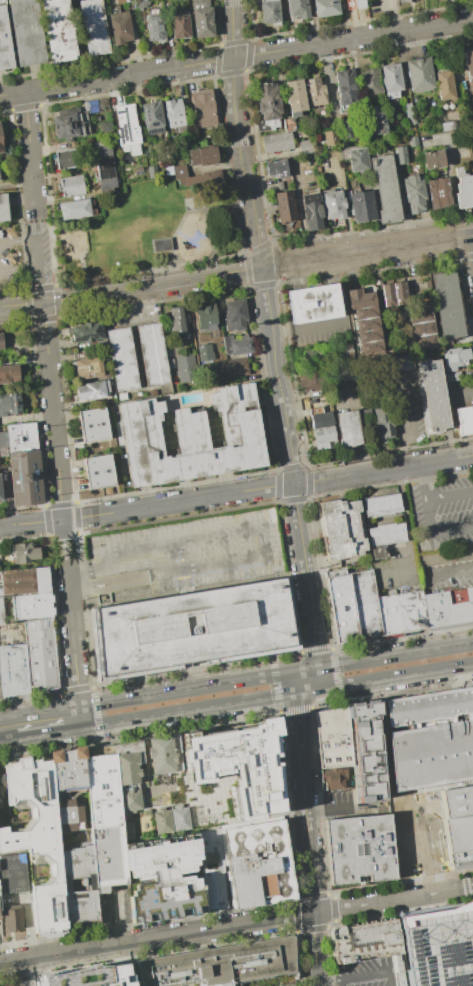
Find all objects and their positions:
building: (395, 0)
building: (403, 1)
building: (142, 4)
building: (354, 4)
building: (325, 8)
building: (297, 9)
building: (269, 12)
building: (202, 19)
building: (180, 26)
building: (93, 27)
building: (120, 28)
building: (155, 28)
building: (58, 29)
building: (26, 32)
building: (4, 43)
road: (236, 57)
building: (468, 65)
building: (419, 75)
building: (391, 78)
building: (370, 84)
building: (444, 85)
building: (345, 87)
building: (315, 92)
building: (293, 98)
building: (267, 102)
building: (97, 106)
building: (203, 108)
building: (173, 114)
building: (409, 114)
building: (151, 118)
building: (376, 121)
rooftop solar panel: (151, 124)
building: (125, 125)
building: (70, 126)
building: (446, 126)
building: (104, 128)
rooftop solar panel: (152, 129)
rooftop solar panel: (123, 131)
building: (346, 132)
road: (237, 134)
building: (329, 137)
building: (412, 141)
building: (276, 142)
building: (0, 146)
building: (306, 147)
road: (29, 150)
building: (203, 155)
building: (400, 155)
building: (66, 158)
building: (357, 160)
building: (432, 160)
building: (103, 164)
building: (472, 164)
building: (278, 168)
building: (179, 170)
building: (152, 171)
building: (205, 179)
building: (71, 186)
building: (386, 189)
building: (464, 192)
building: (414, 194)
building: (438, 194)
building: (333, 205)
building: (362, 206)
building: (3, 207)
building: (285, 207)
building: (74, 209)
building: (312, 211)
road: (185, 214)
road: (36, 223)
park: (148, 231)
road: (18, 240)
road: (214, 240)
road: (472, 242)
building: (161, 245)
road: (367, 250)
parking lot: (7, 257)
traffic signals: (262, 267)
road: (19, 268)
road: (84, 277)
road: (131, 289)
building: (397, 294)
building: (316, 303)
building: (451, 305)
building: (213, 315)
building: (237, 315)
building: (369, 320)
building: (180, 321)
building: (426, 326)
building: (84, 332)
road: (307, 332)
building: (0, 342)
building: (240, 345)
building: (344, 350)
building: (207, 352)
building: (155, 354)
building: (319, 355)
building: (125, 359)
building: (457, 359)
building: (402, 364)
building: (188, 367)
building: (91, 368)
building: (232, 369)
building: (8, 373)
building: (348, 376)
building: (456, 376)
road: (49, 378)
building: (313, 382)
building: (96, 391)
building: (436, 395)
building: (120, 396)
building: (9, 404)
parking lot: (408, 408)
building: (369, 415)
building: (322, 418)
road: (408, 419)
building: (466, 420)
building: (386, 422)
building: (96, 425)
building: (349, 429)
building: (194, 435)
building: (326, 435)
building: (4, 440)
building: (26, 464)
road: (293, 468)
building: (101, 471)
building: (2, 487)
road: (236, 491)
building: (440, 502)
road: (405, 518)
building: (383, 522)
building: (341, 529)
road: (64, 540)
parking lot: (183, 552)
building: (27, 553)
road: (256, 557)
building: (28, 581)
building: (364, 603)
building: (340, 606)
building: (34, 607)
building: (446, 607)
building: (400, 611)
building: (3, 612)
building: (193, 630)
rooftop solar panel: (40, 633)
rooftop solar panel: (36, 634)
road: (72, 640)
building: (40, 655)
road: (390, 656)
building: (13, 670)
traffic signals: (308, 670)
road: (385, 678)
road: (302, 681)
building: (465, 683)
road: (192, 688)
traffic signals: (297, 692)
road: (189, 710)
road: (296, 720)
road: (50, 723)
road: (9, 729)
building: (430, 738)
road: (19, 743)
rooftop solar panel: (330, 746)
rooftop solar panel: (322, 748)
building: (365, 752)
building: (164, 756)
rooftop solar panel: (334, 759)
rooftop solar panel: (344, 759)
rooftop solar panel: (321, 760)
building: (132, 764)
building: (1, 769)
road: (301, 771)
building: (232, 776)
building: (2, 792)
building: (133, 801)
parking lot: (337, 802)
road: (326, 808)
building: (172, 821)
building: (458, 824)
building: (92, 830)
building: (130, 830)
building: (37, 836)
road: (48, 842)
rooftop solar panel: (362, 847)
rooftop solar panel: (354, 848)
building: (360, 848)
building: (260, 864)
building: (212, 867)
building: (14, 874)
building: (164, 877)
road: (312, 889)
road: (463, 889)
road: (425, 895)
parking lot: (113, 903)
road: (356, 906)
rooftop solar panel: (54, 909)
road: (28, 918)
road: (118, 918)
building: (12, 919)
road: (156, 937)
road: (51, 944)
building: (368, 944)
building: (437, 948)
parking garage: (437, 948)
building: (219, 964)
road: (47, 966)
parking lot: (365, 973)
building: (90, 977)
road: (357, 977)
parking lot: (49, 980)
road: (49, 981)
building: (23, 982)
parking lot: (284, 985)
building: (338, 985)

